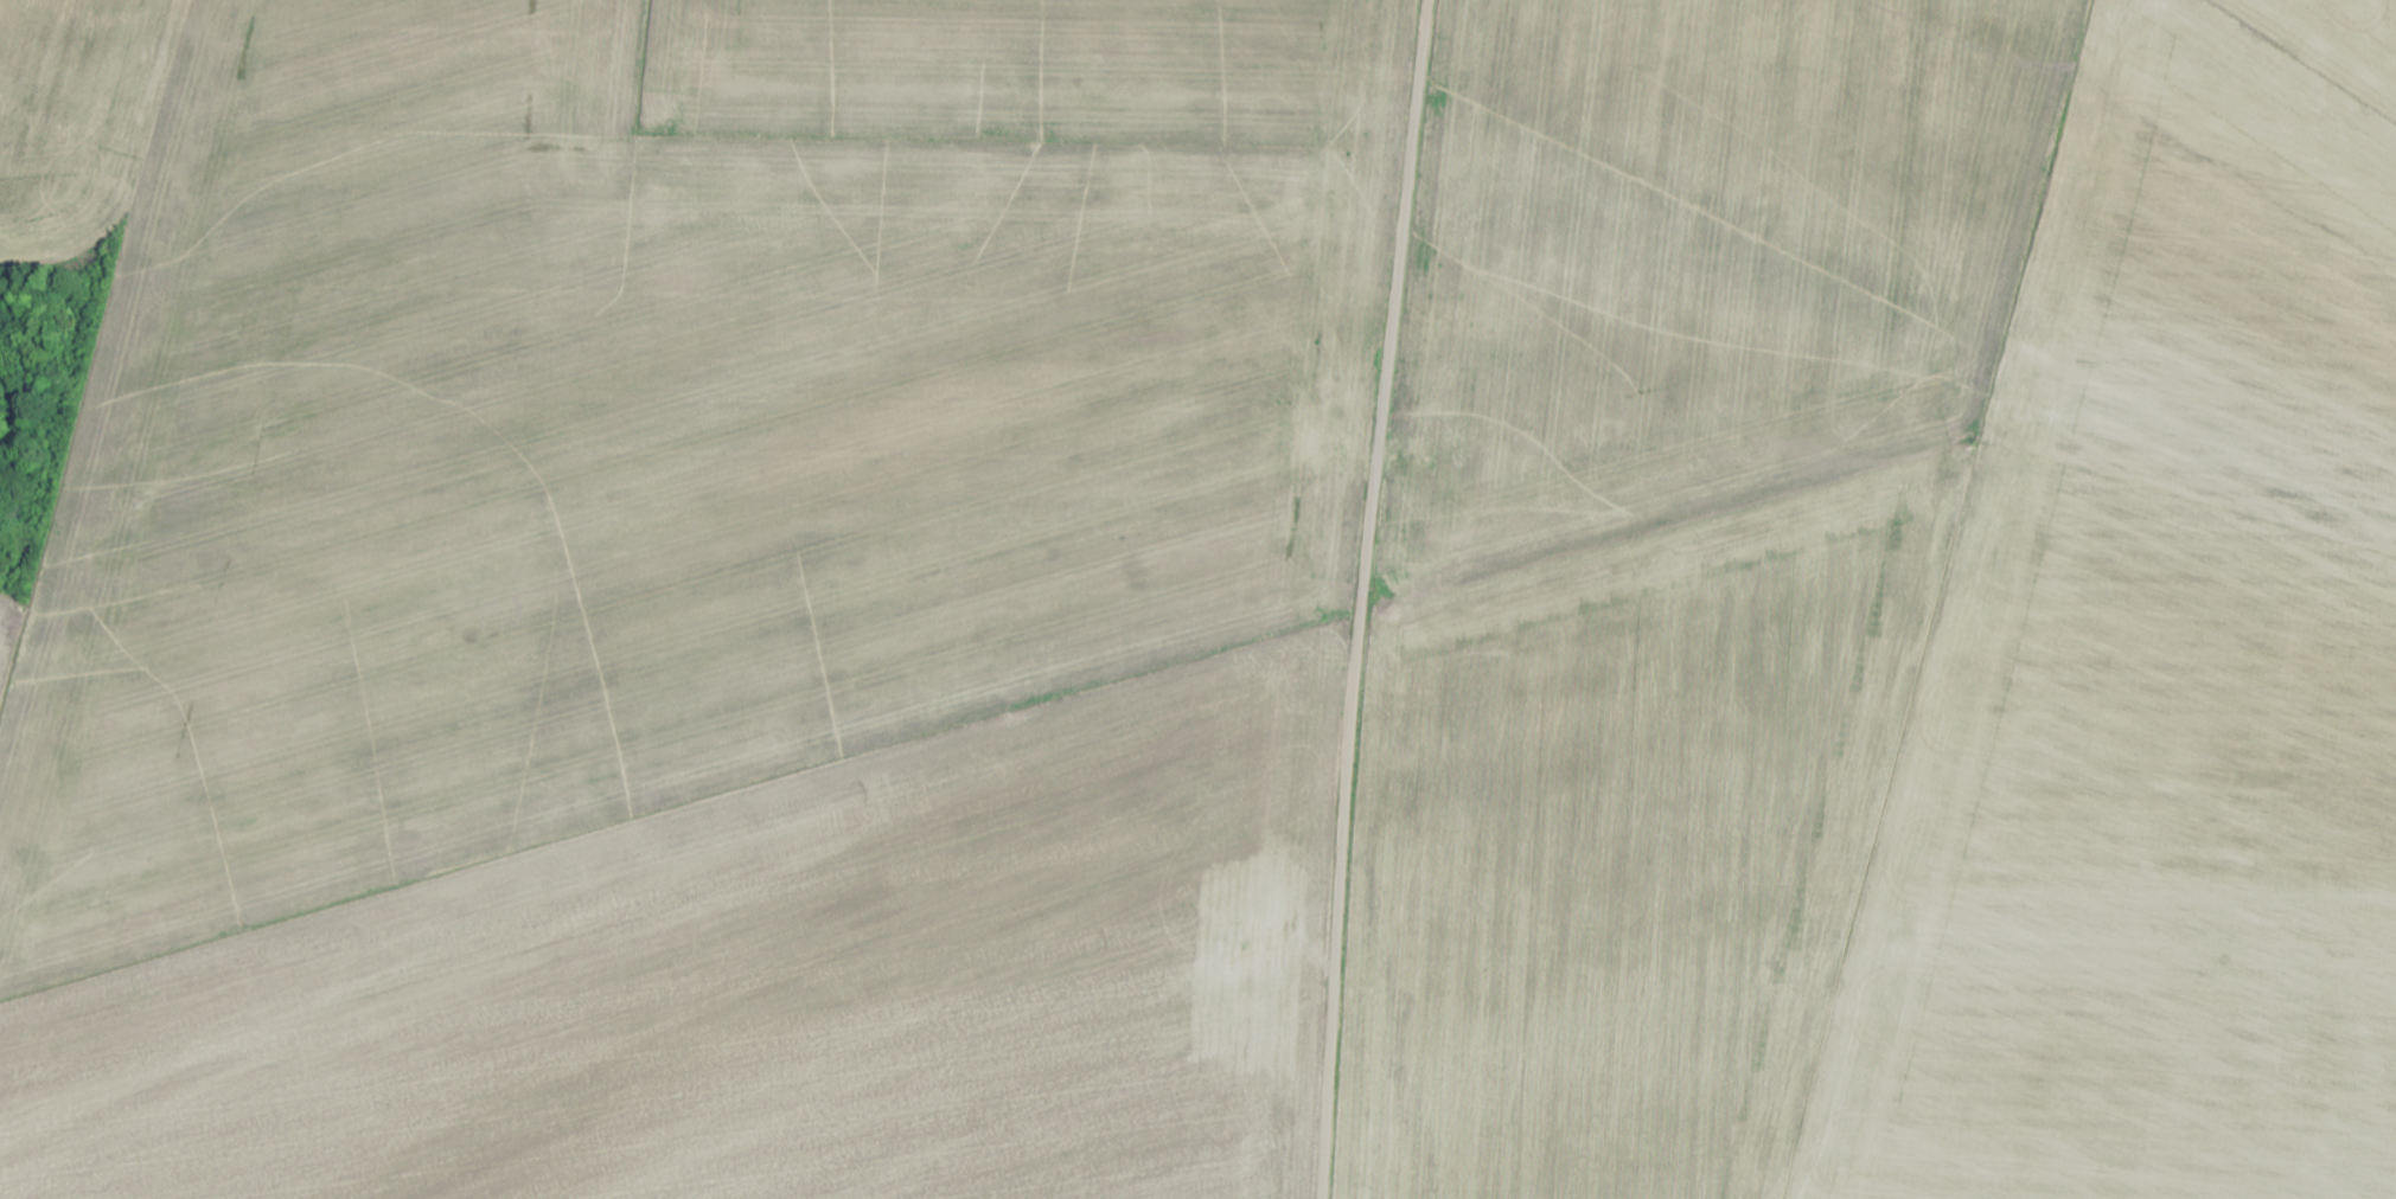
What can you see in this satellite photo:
road: (1363, 598)

